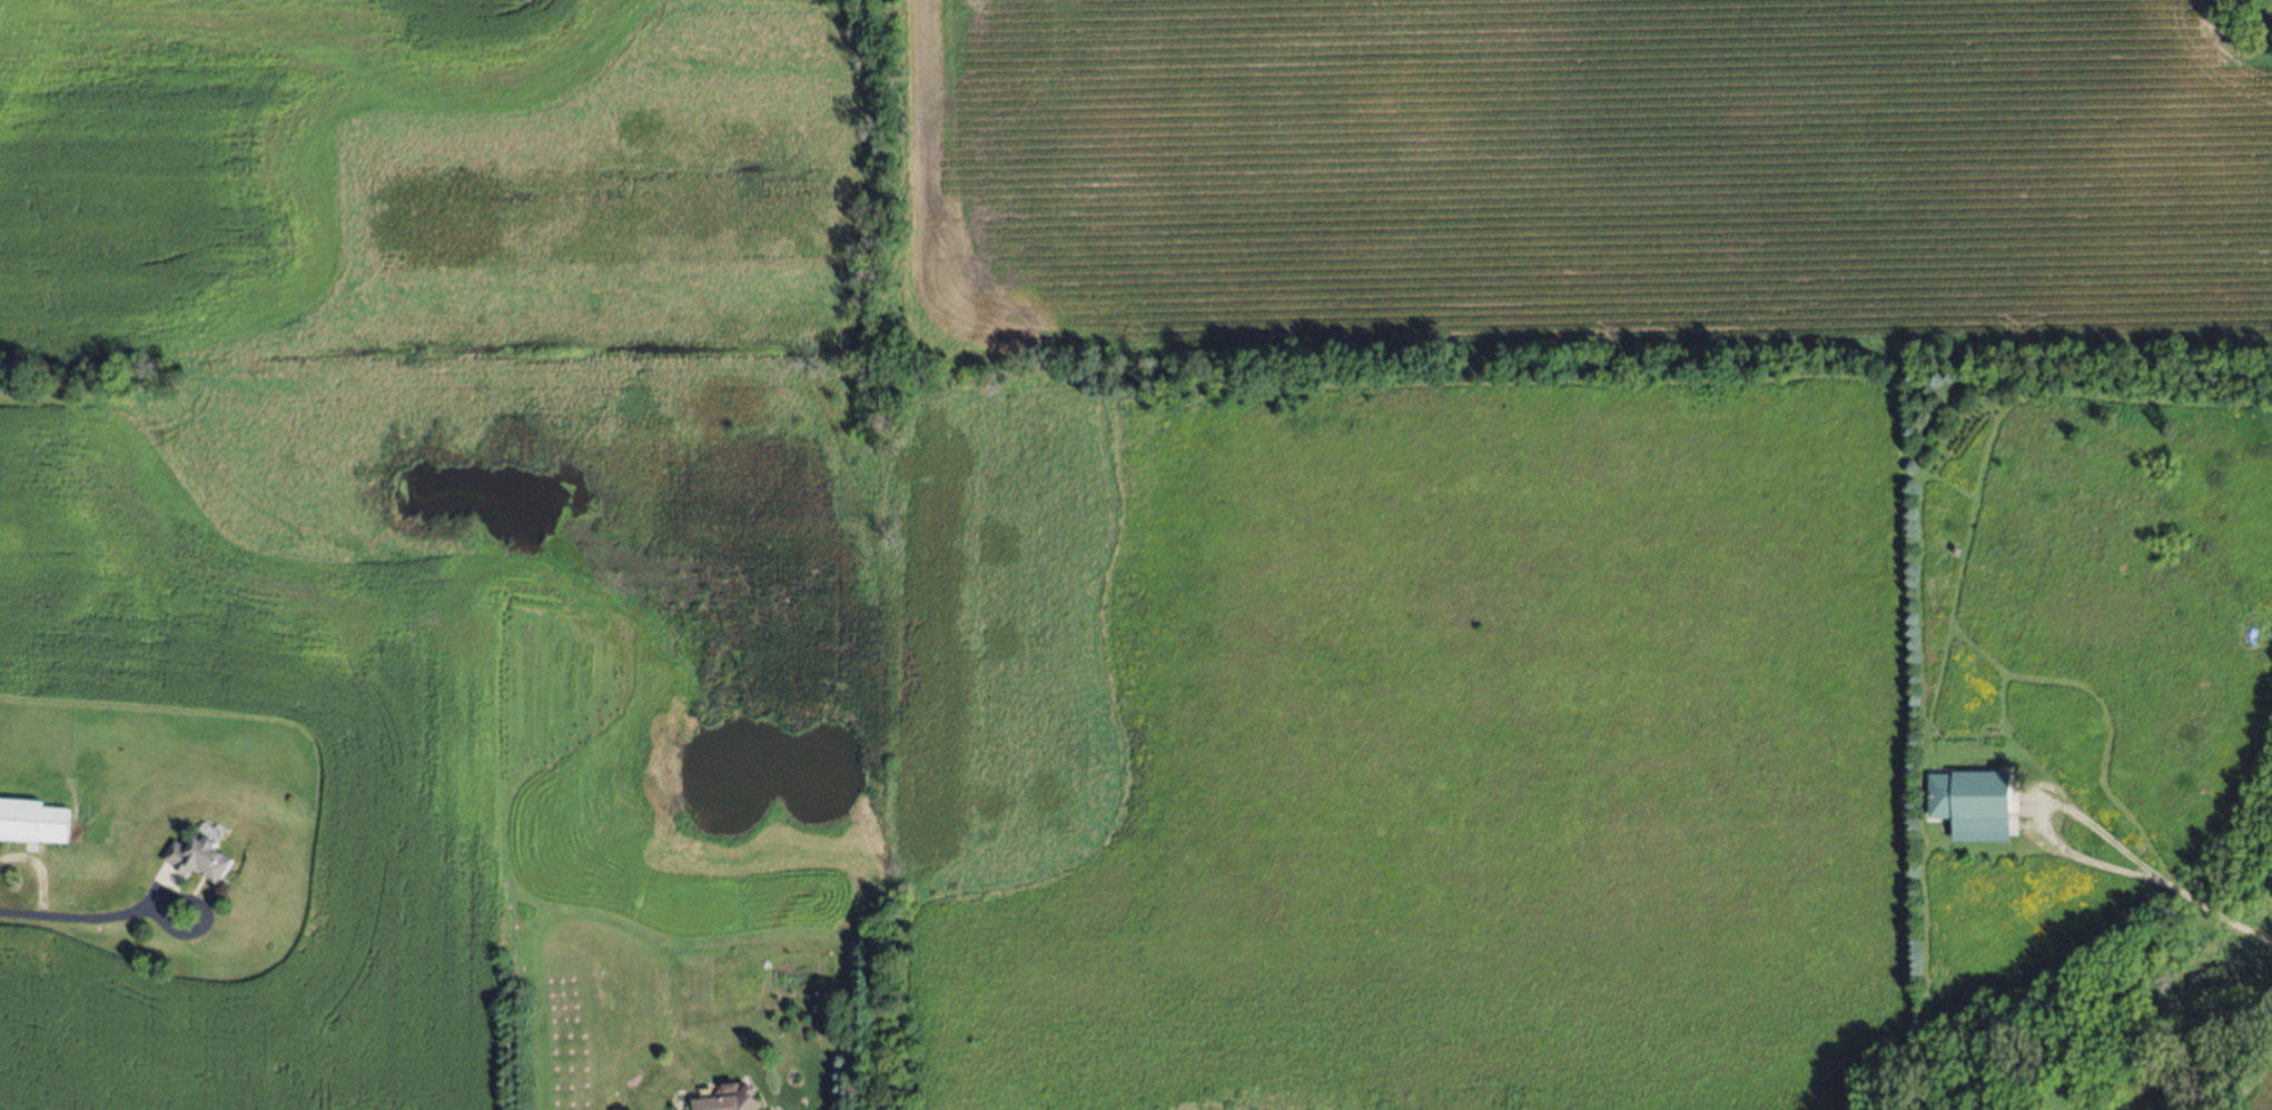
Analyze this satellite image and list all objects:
building: (1970, 804)
road: (2043, 810)
building: (33, 817)
building: (198, 858)
road: (2210, 909)
road: (81, 919)
building: (727, 1100)

